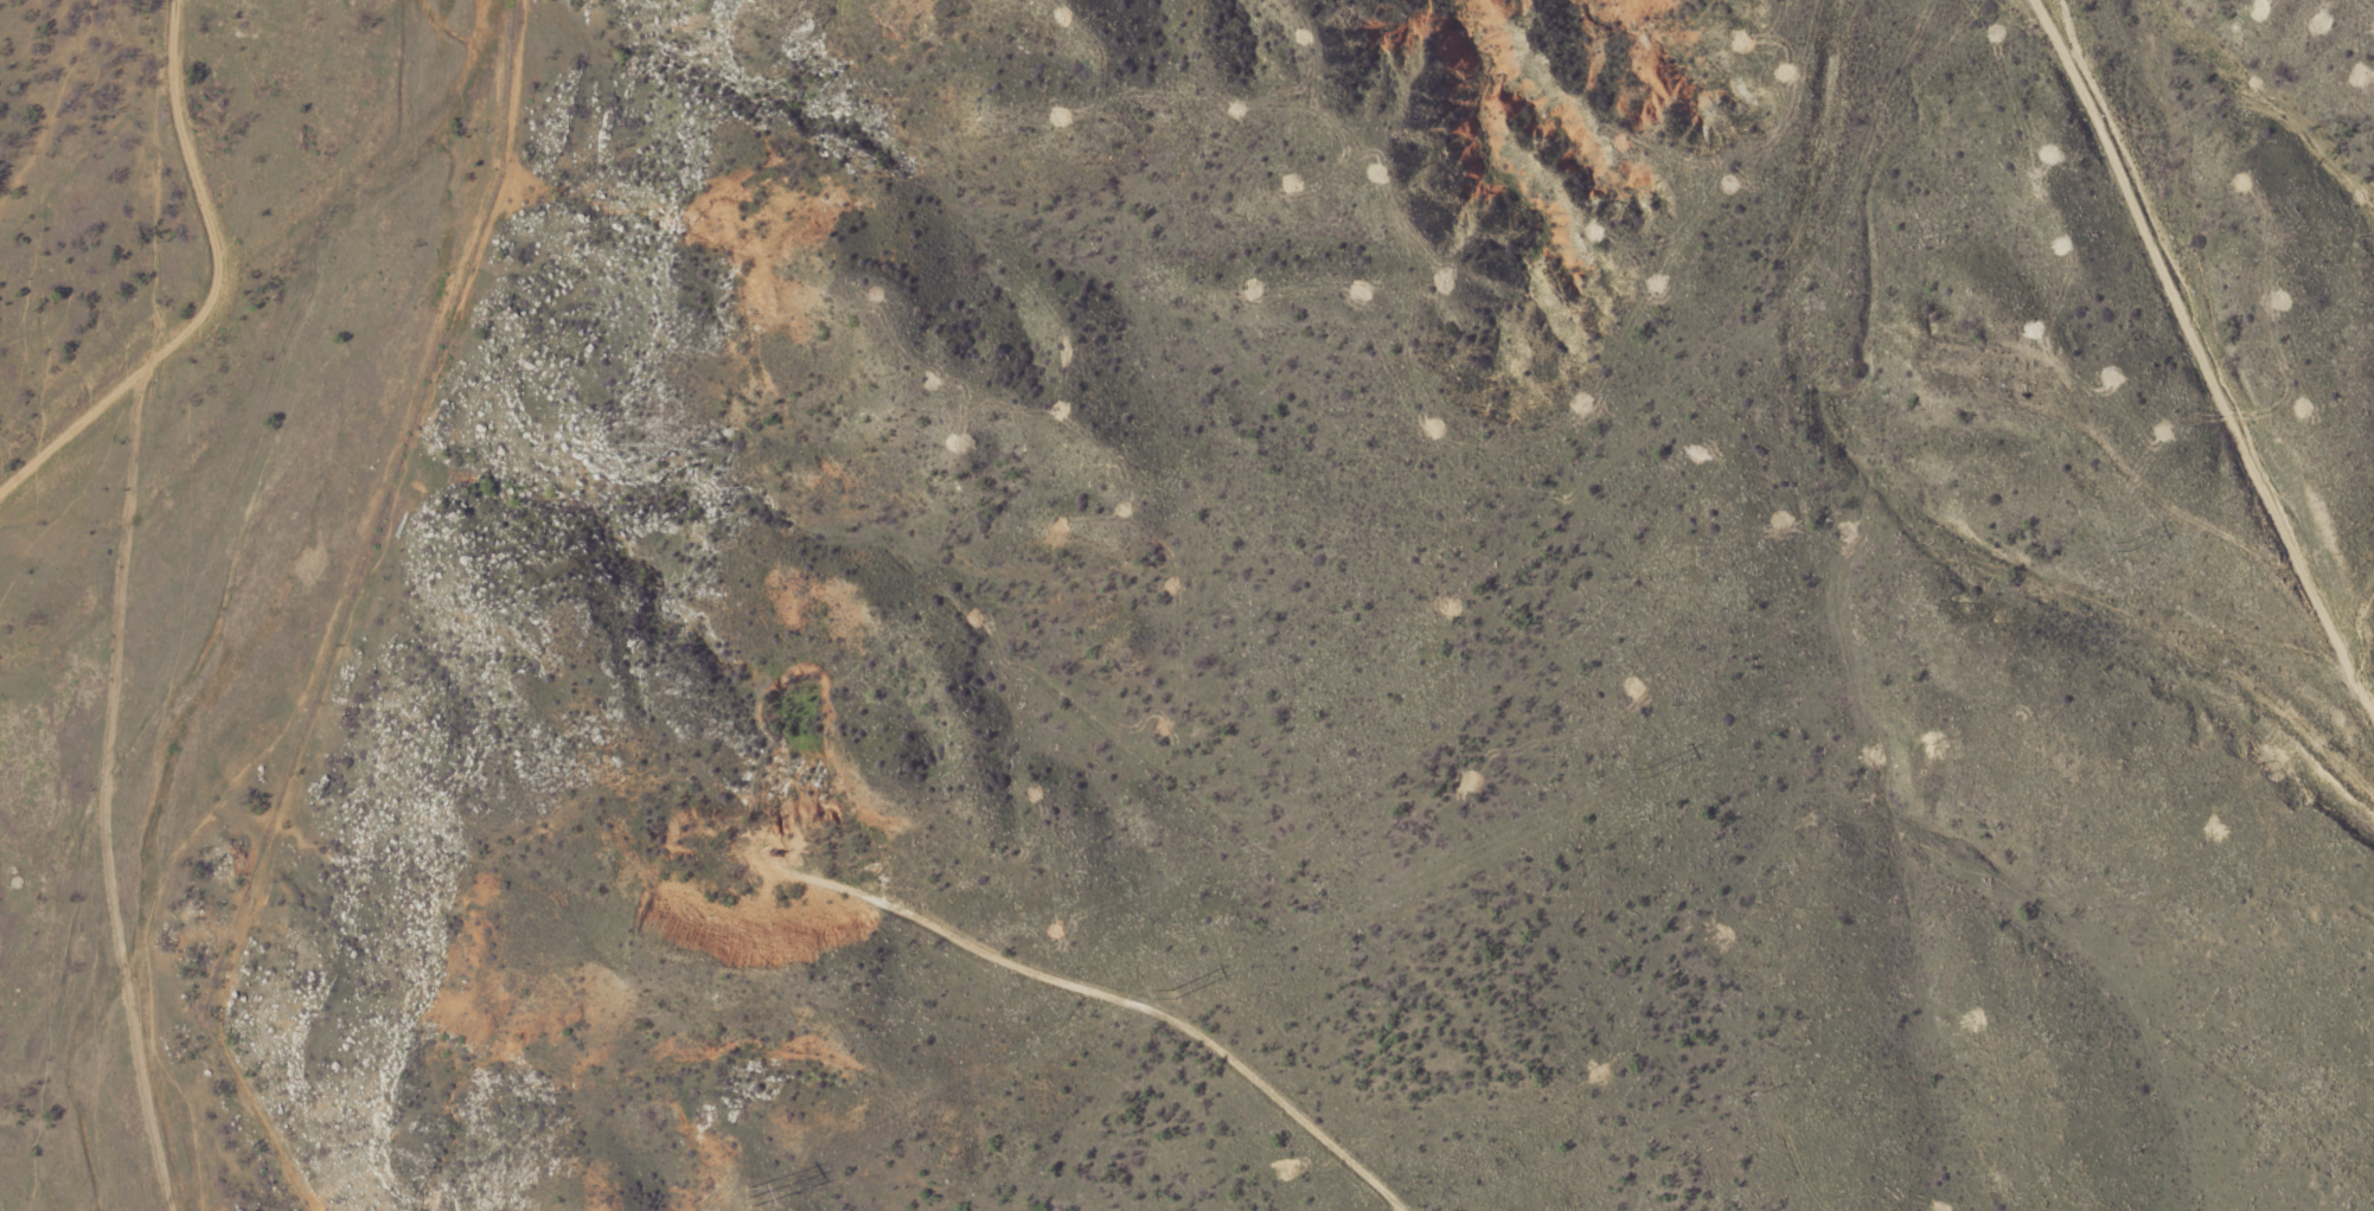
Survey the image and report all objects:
power tower: (2126, 546)
power tower: (1645, 771)
power tower: (1173, 994)
power tower: (746, 1194)

